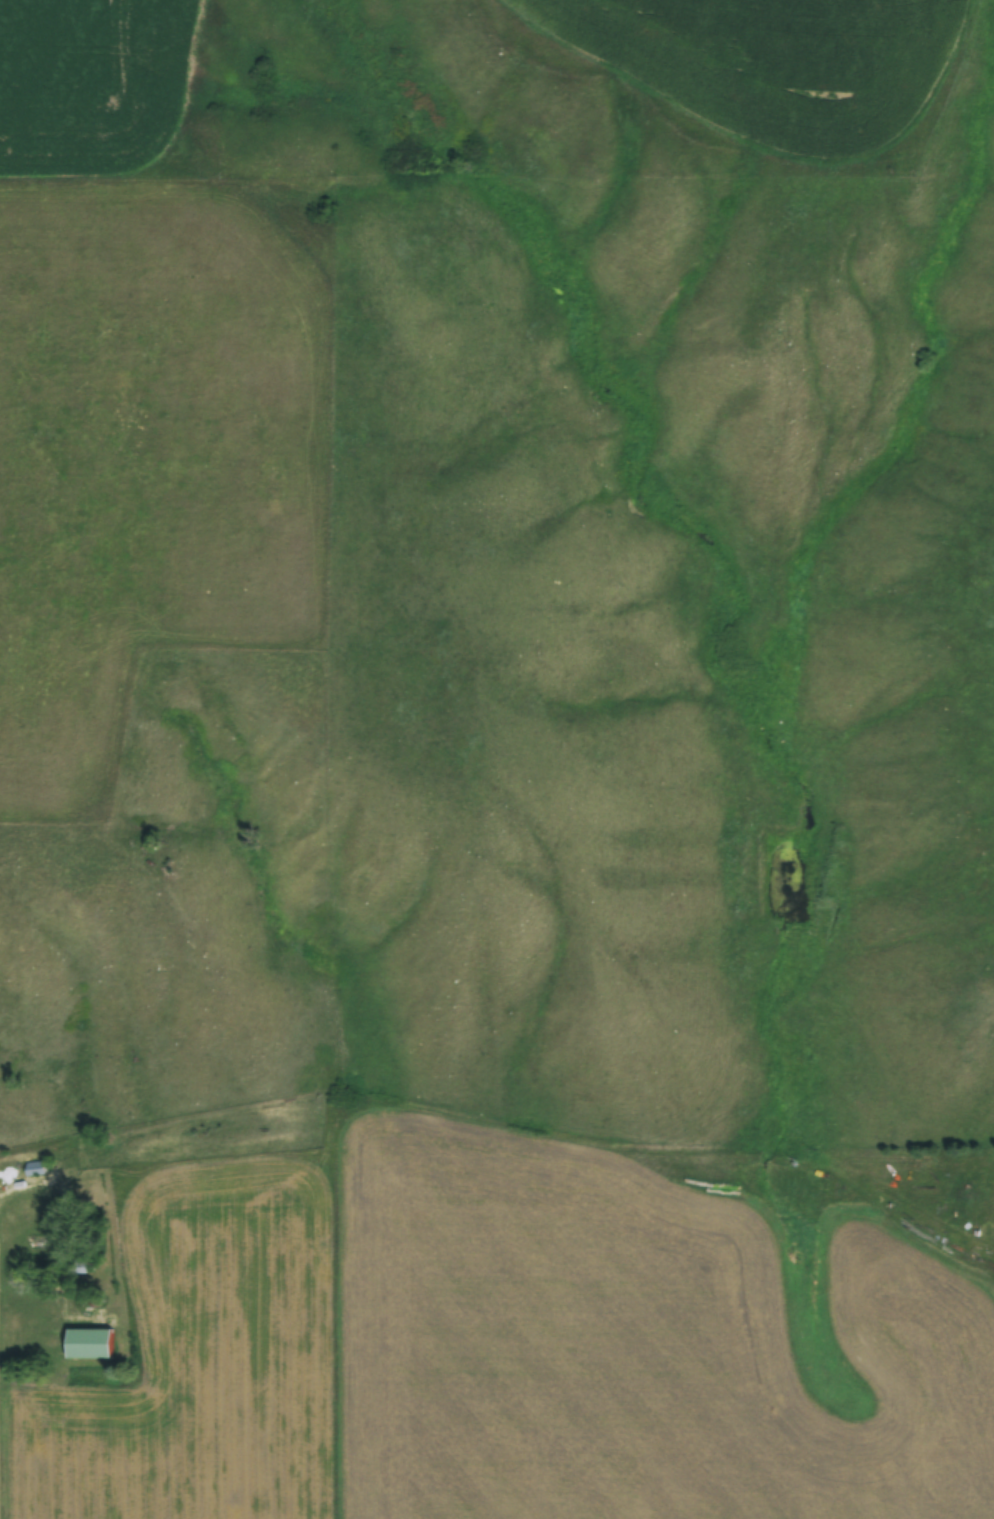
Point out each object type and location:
building: (32, 1172)
building: (85, 1345)

